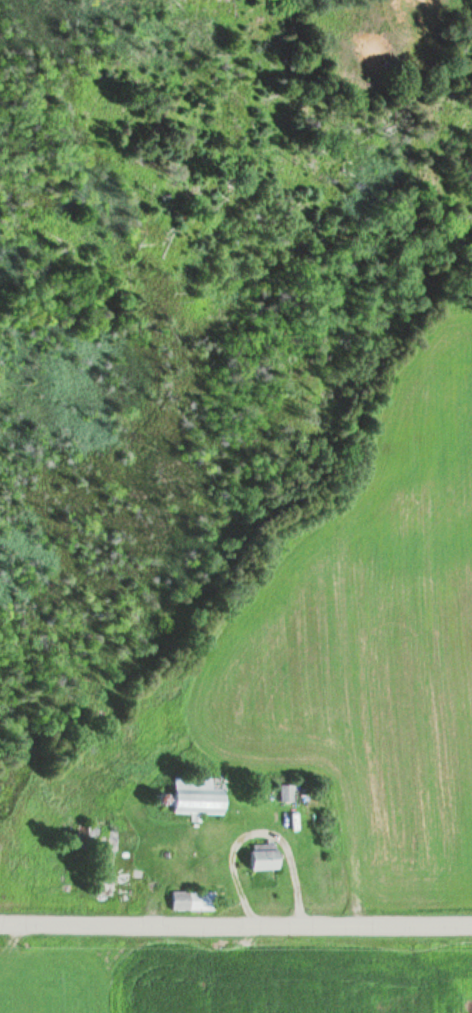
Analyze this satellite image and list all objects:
building: (197, 795)
building: (91, 834)
building: (260, 856)
building: (106, 873)
building: (192, 900)
road: (235, 926)

